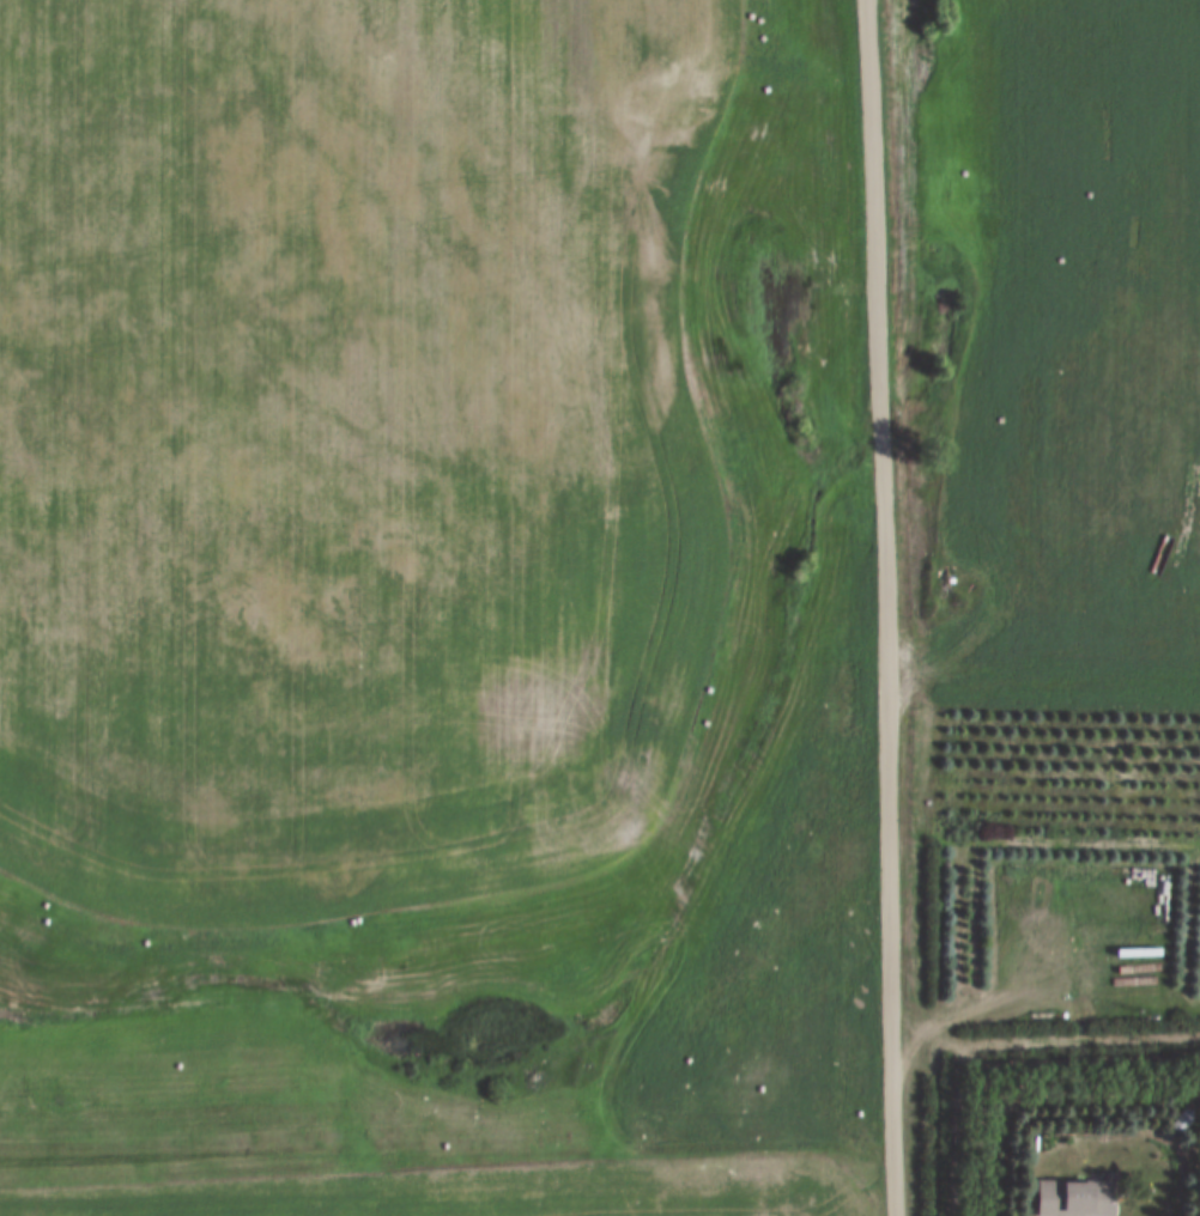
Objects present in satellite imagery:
road: (907, 607)
building: (1139, 950)
building: (1178, 1119)
building: (1073, 1194)

